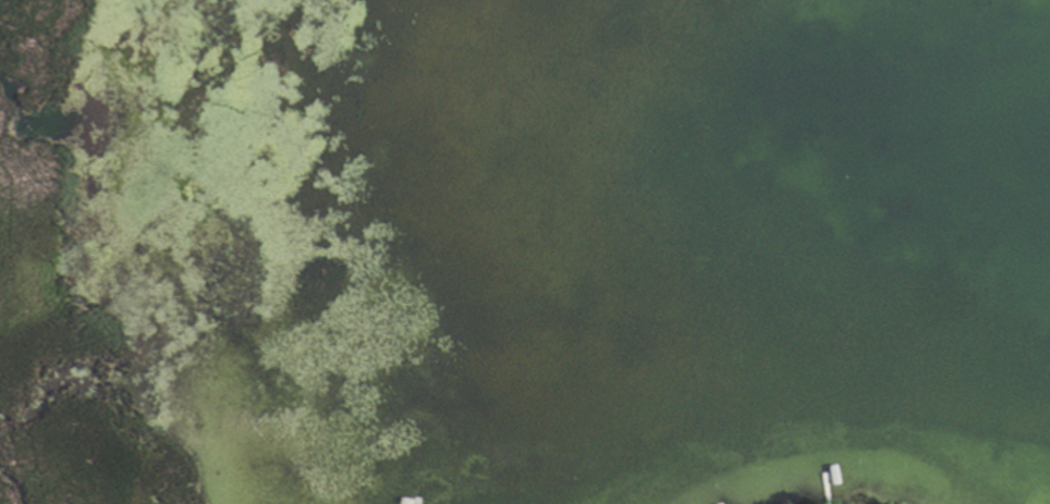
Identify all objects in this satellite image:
building: (838, 479)

